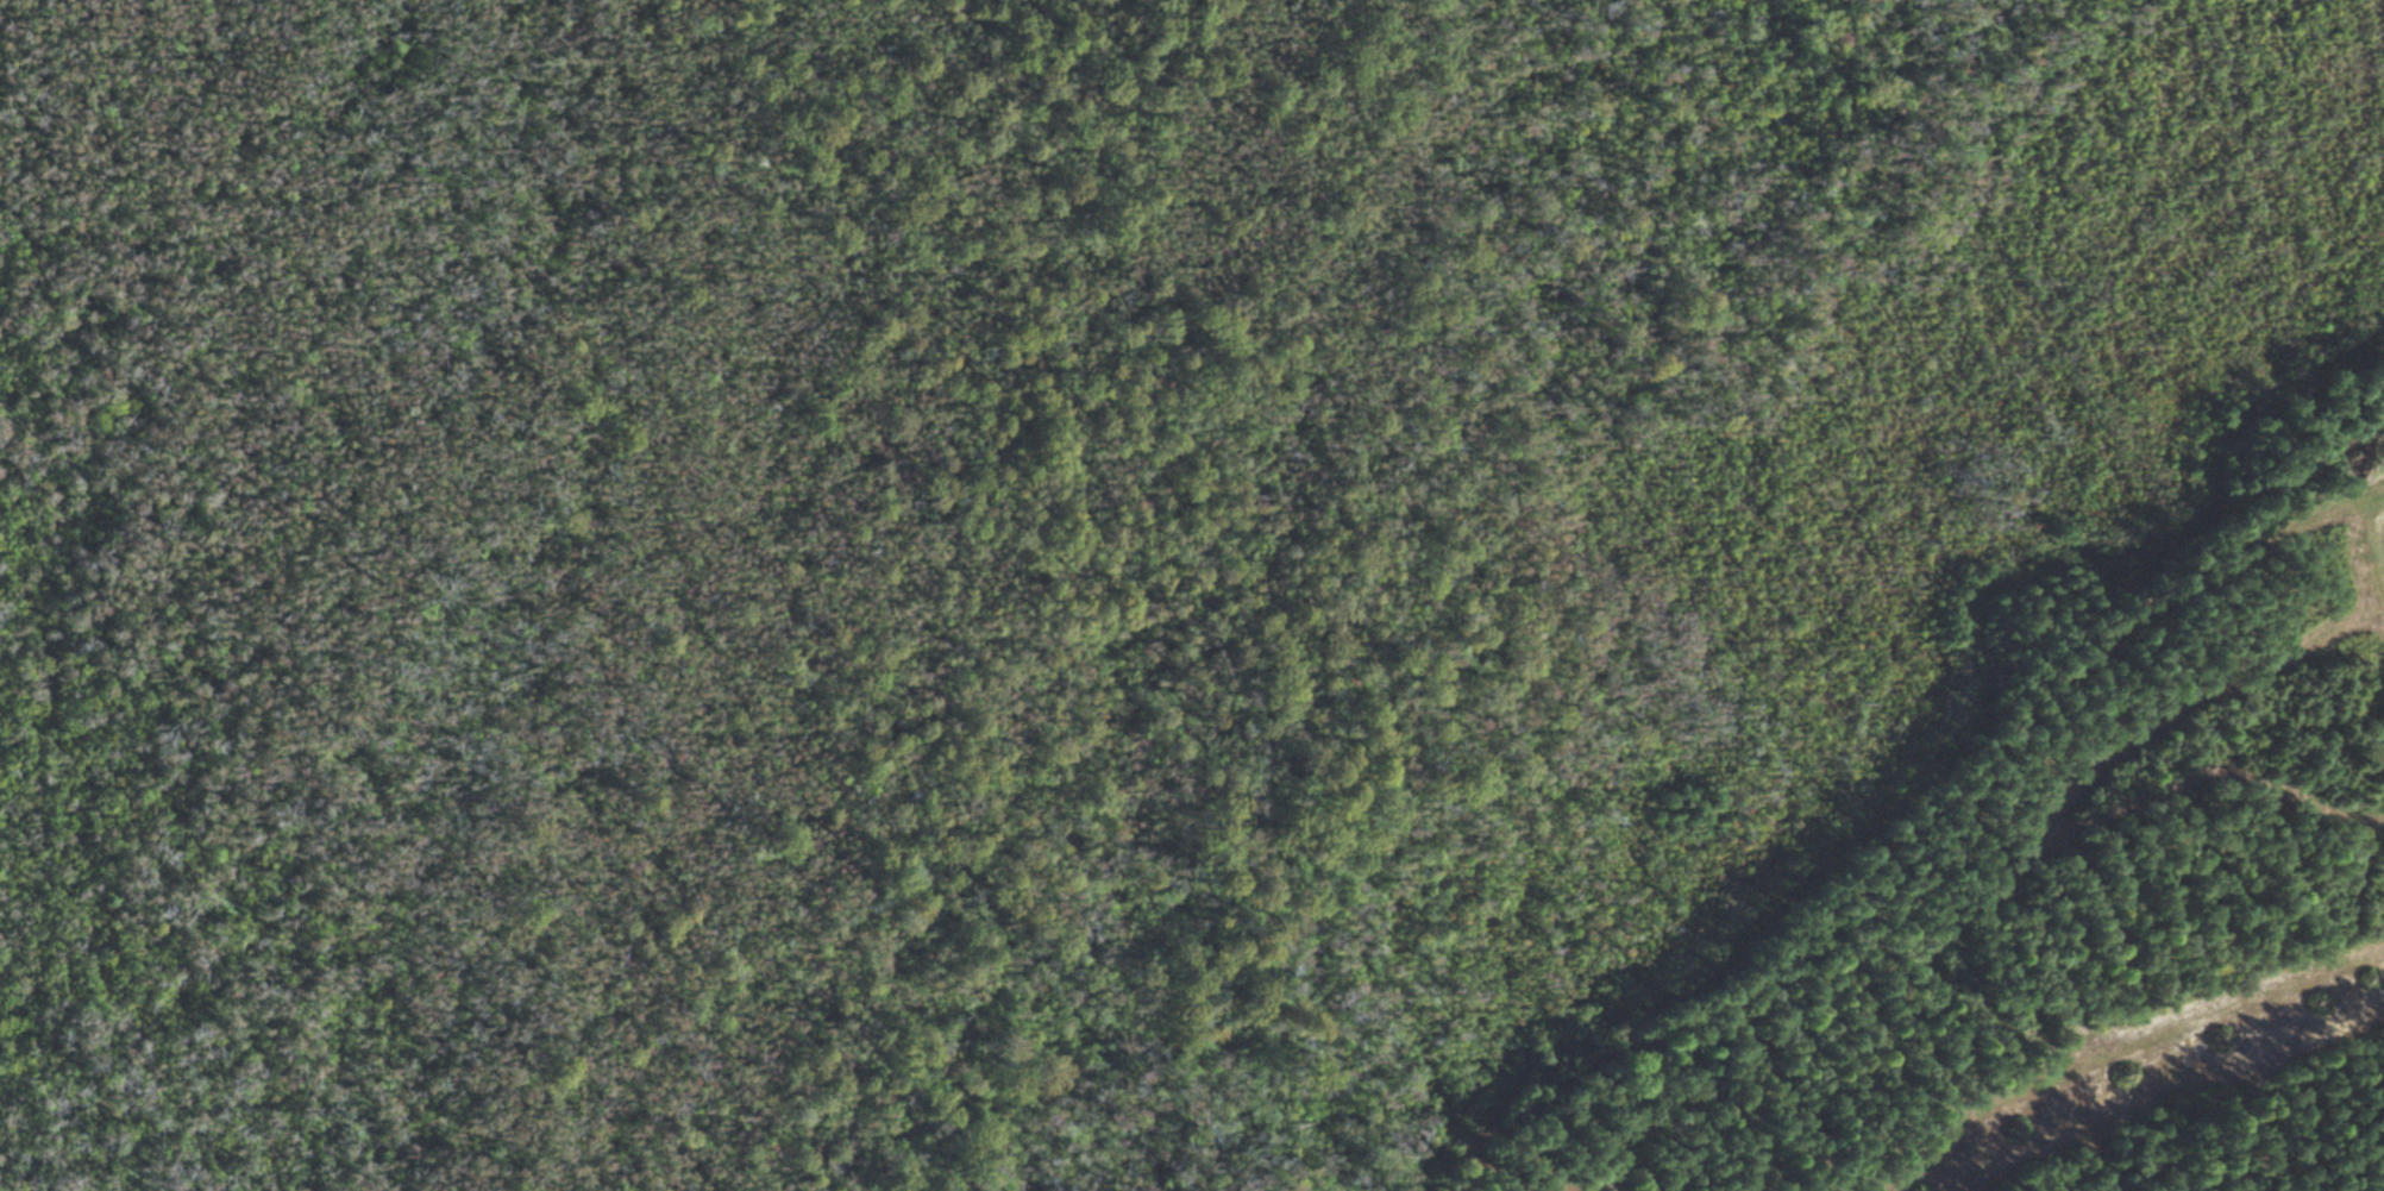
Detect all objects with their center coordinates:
road: (2125, 1049)

